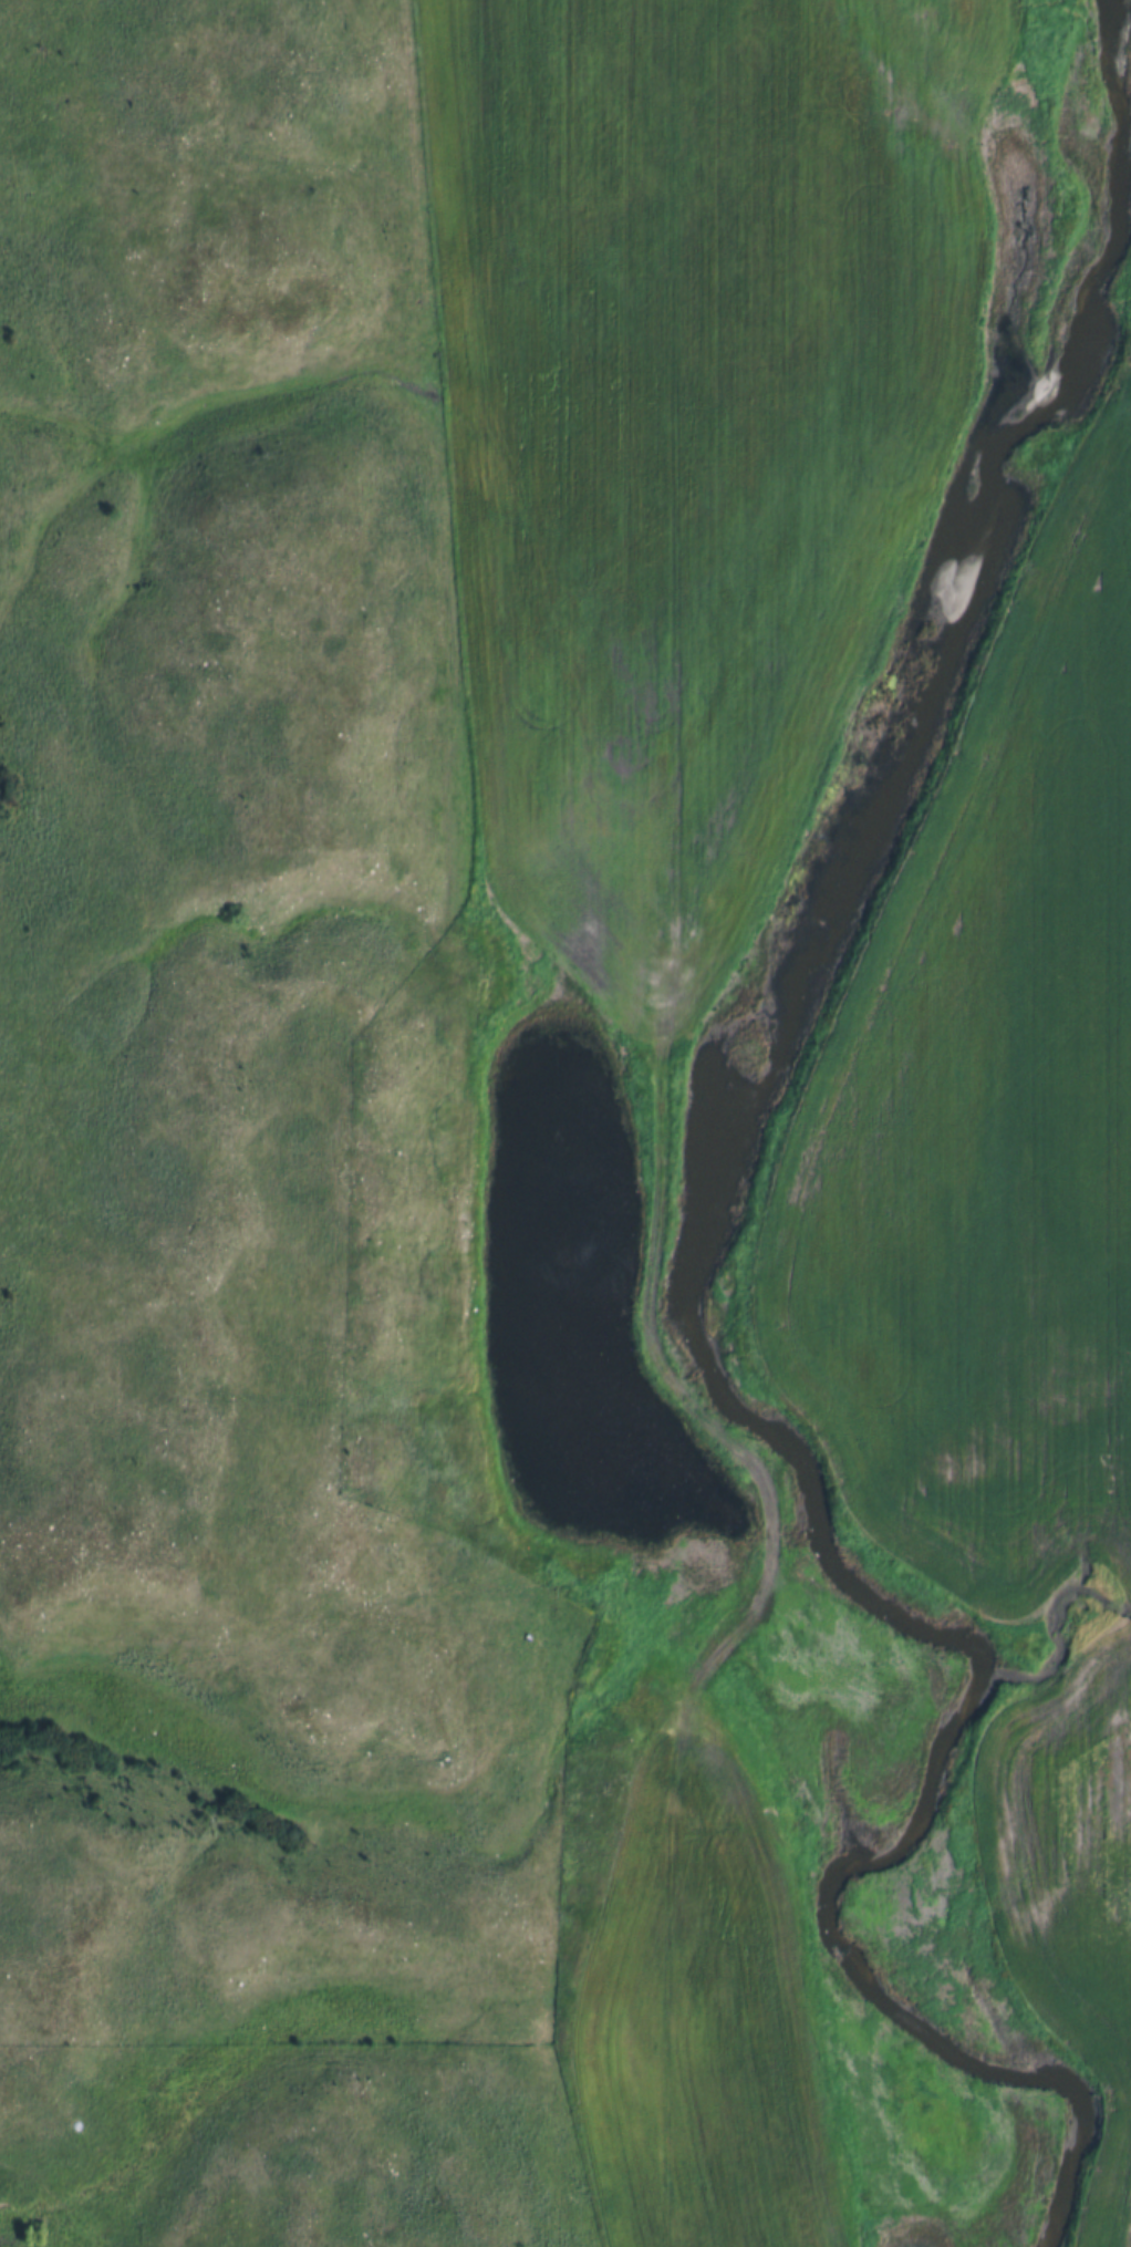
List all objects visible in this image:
river: (698, 1254)

